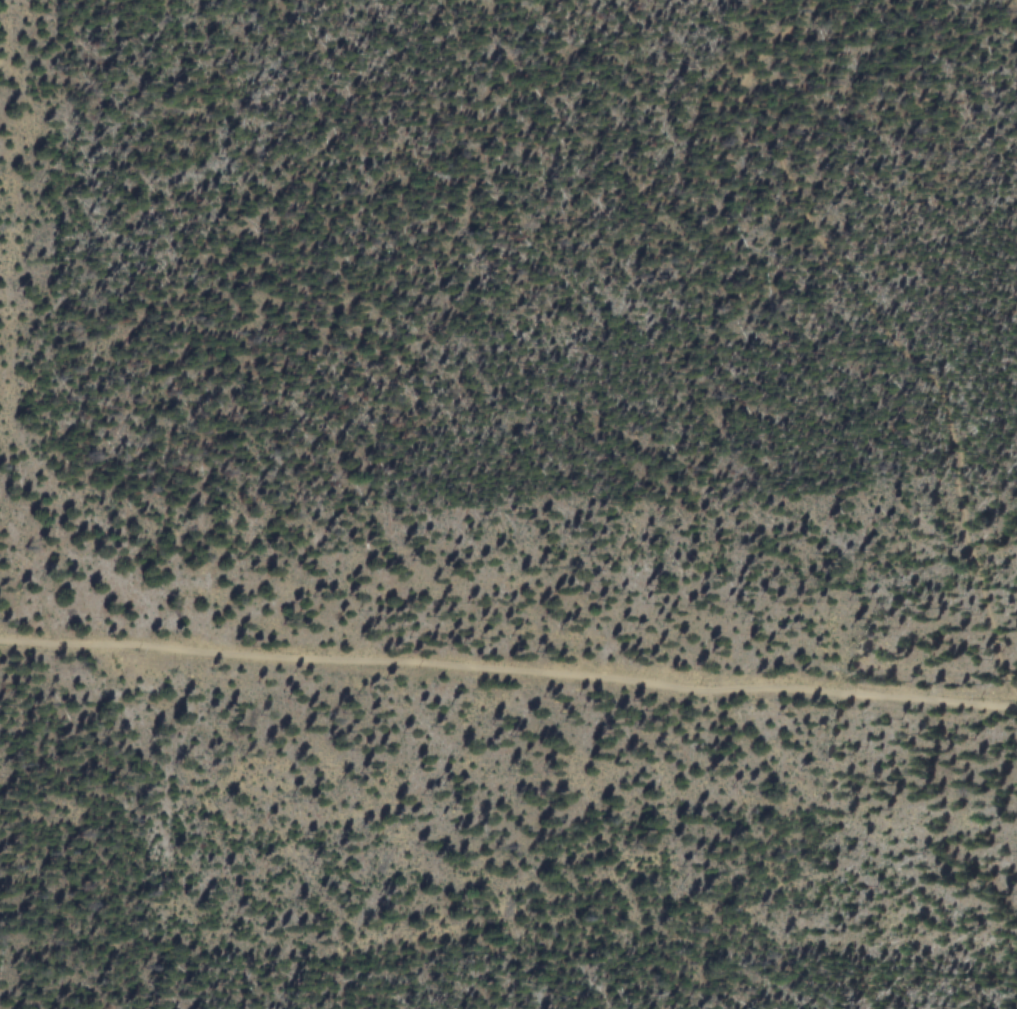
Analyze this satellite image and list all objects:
road: (884, 316)
road: (508, 671)

